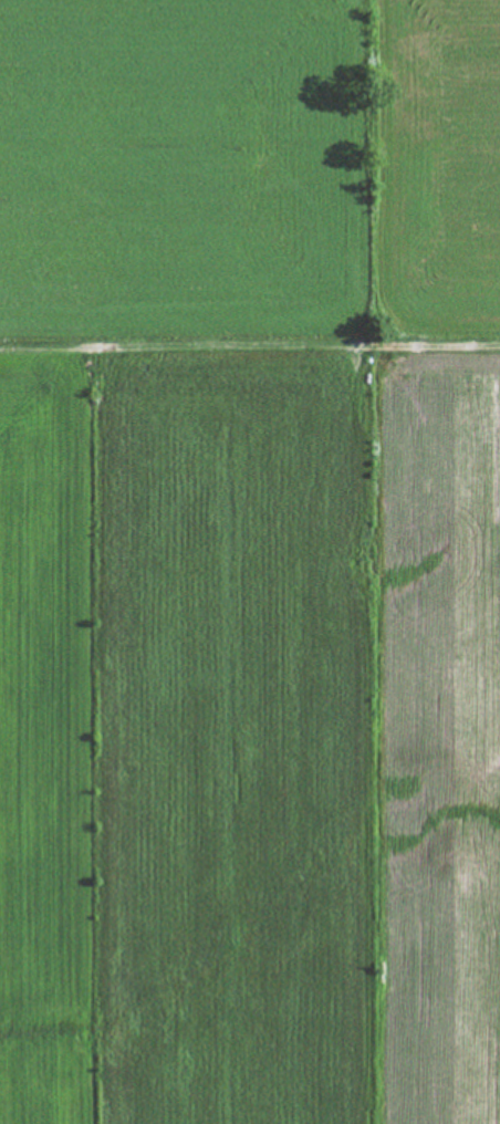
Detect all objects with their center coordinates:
road: (433, 343)

